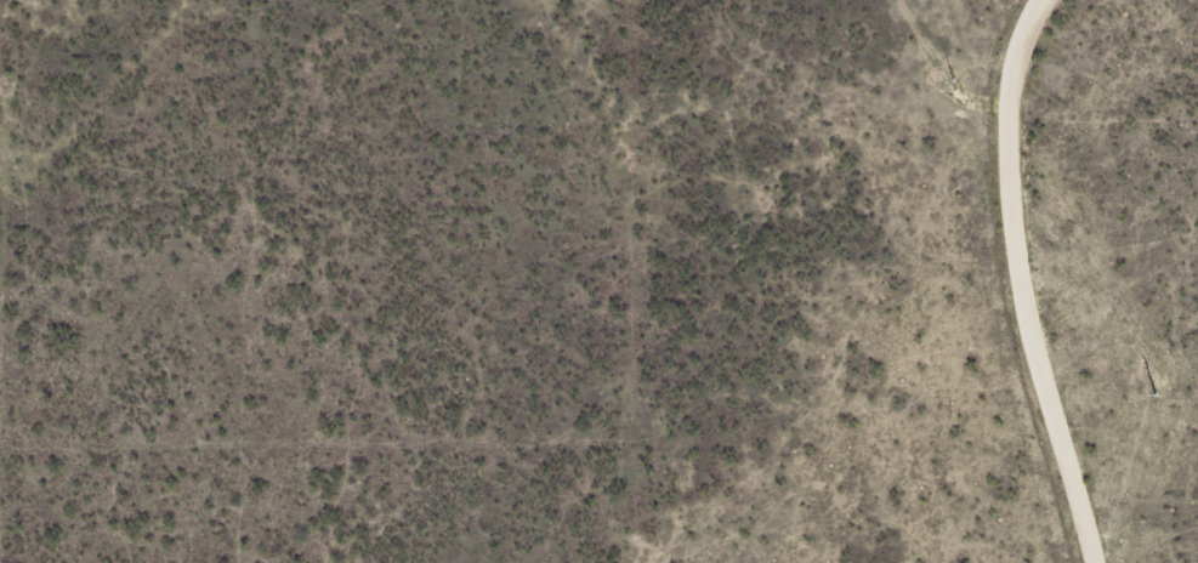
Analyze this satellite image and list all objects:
road: (1018, 273)

